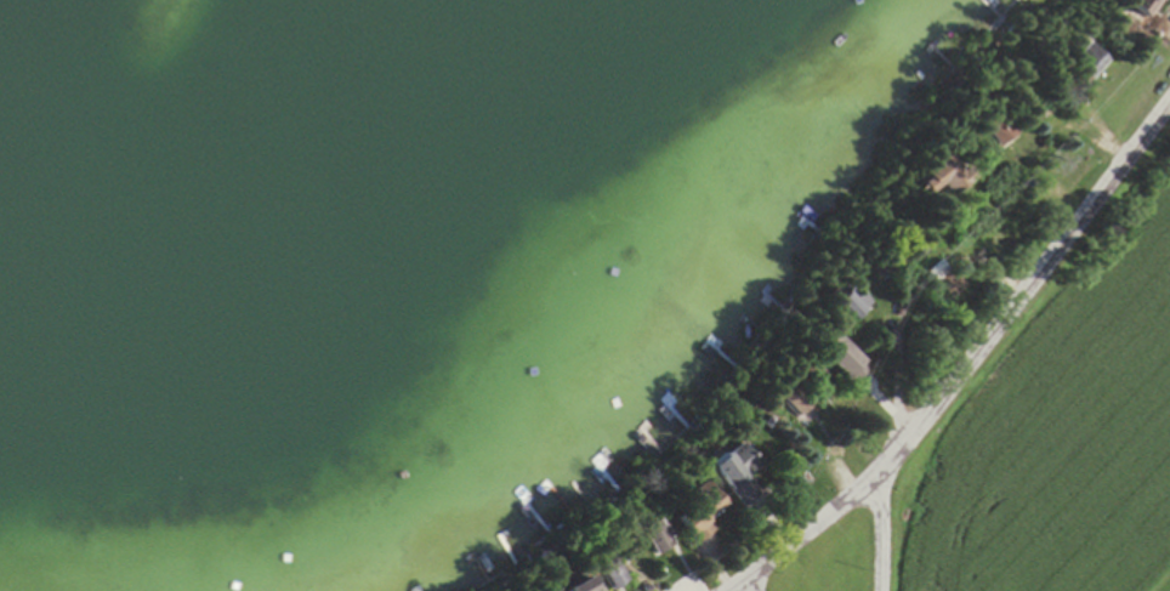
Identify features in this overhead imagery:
building: (1141, 11)
building: (1089, 62)
building: (993, 125)
building: (941, 176)
building: (852, 308)
building: (837, 359)
road: (969, 366)
building: (733, 470)
building: (693, 513)
road: (882, 529)
building: (651, 539)

